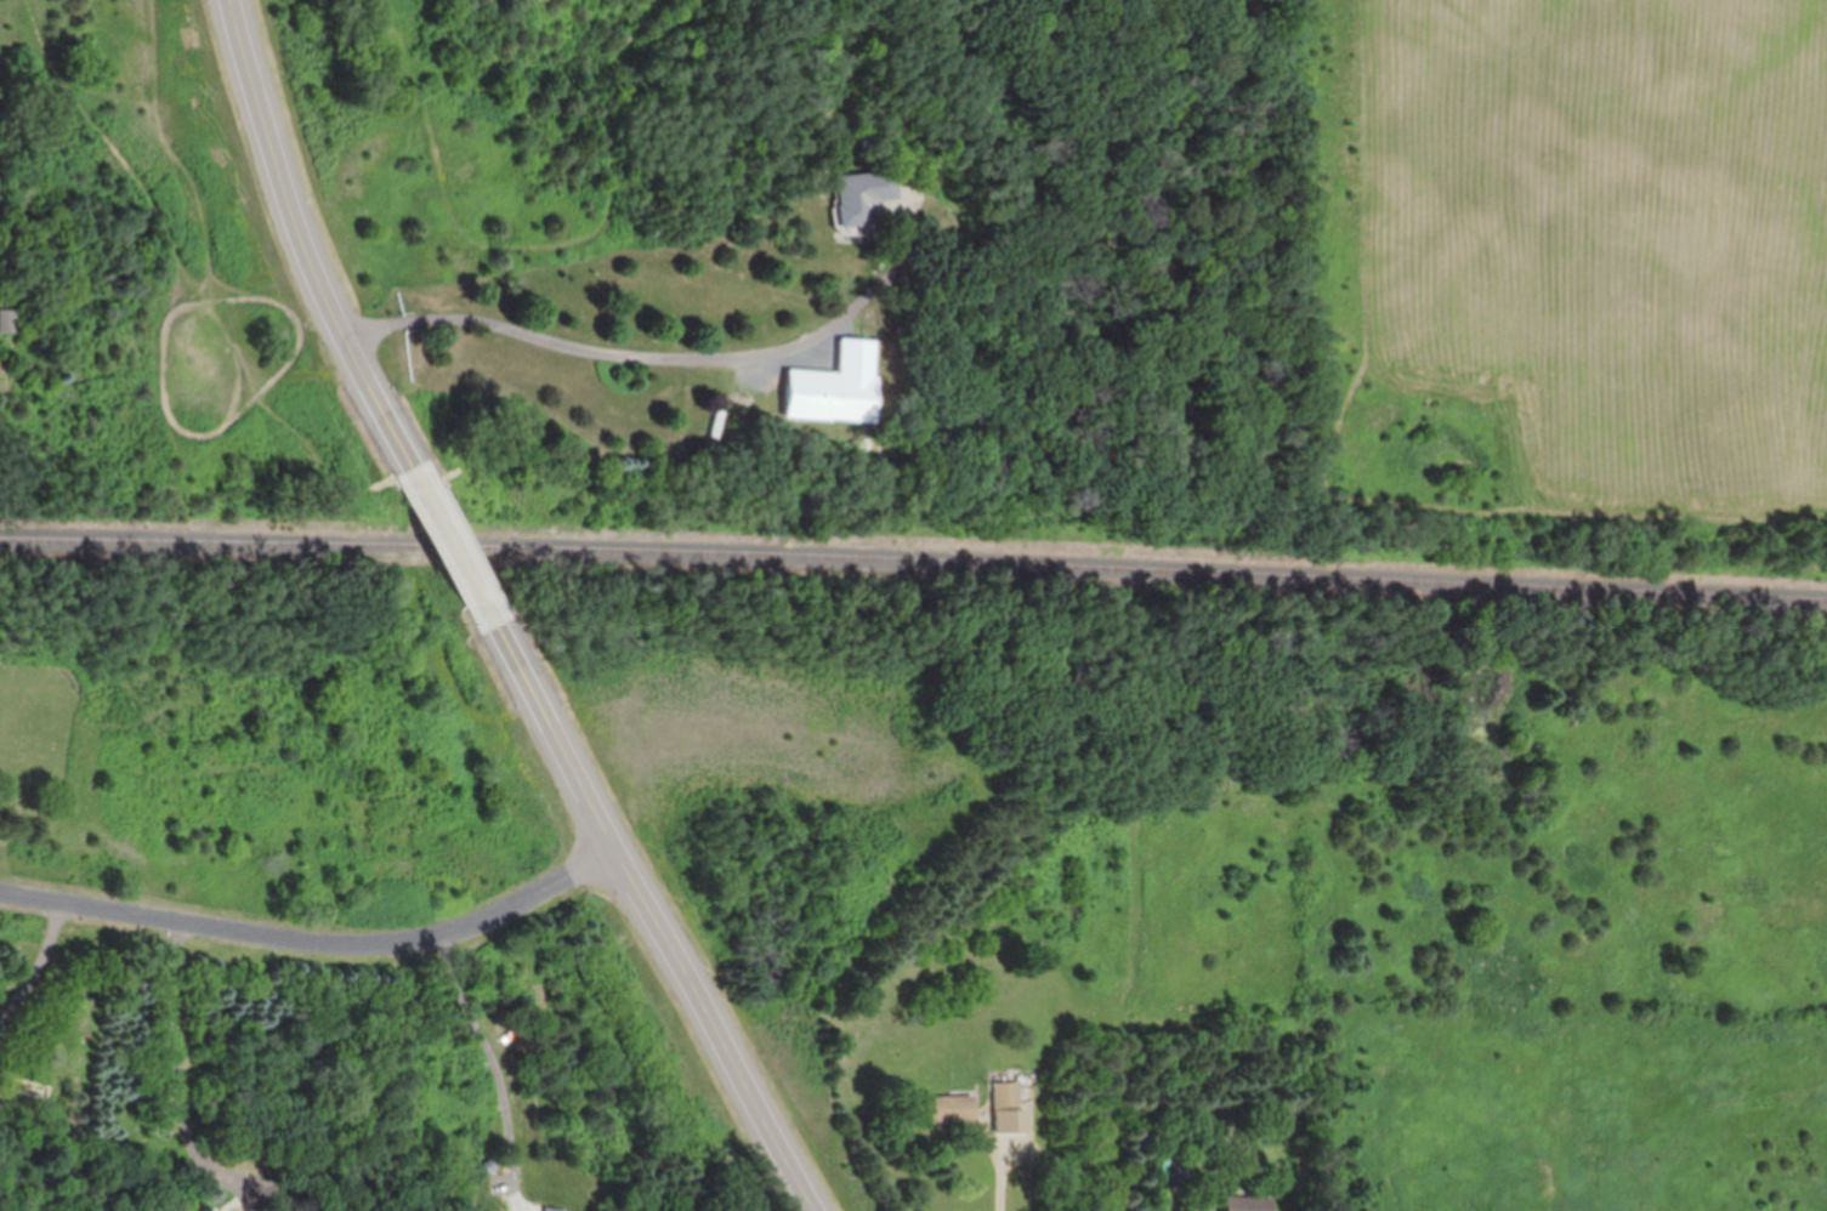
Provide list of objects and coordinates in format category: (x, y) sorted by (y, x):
building: (859, 197)
road: (311, 251)
building: (11, 320)
road: (665, 359)
building: (832, 387)
road: (458, 553)
railway: (913, 557)
road: (656, 911)
road: (319, 948)
road: (34, 982)
road: (176, 1054)
road: (499, 1068)
building: (1008, 1096)
building: (947, 1108)
road: (1005, 1172)
building: (1244, 1204)
building: (546, 1209)

